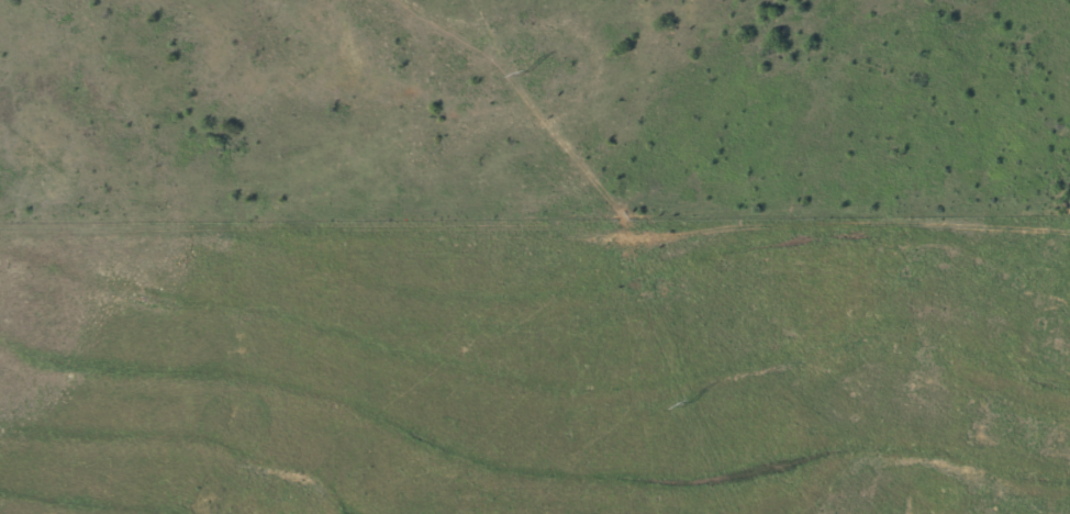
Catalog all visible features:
power tower: (527, 68)
power tower: (692, 400)

